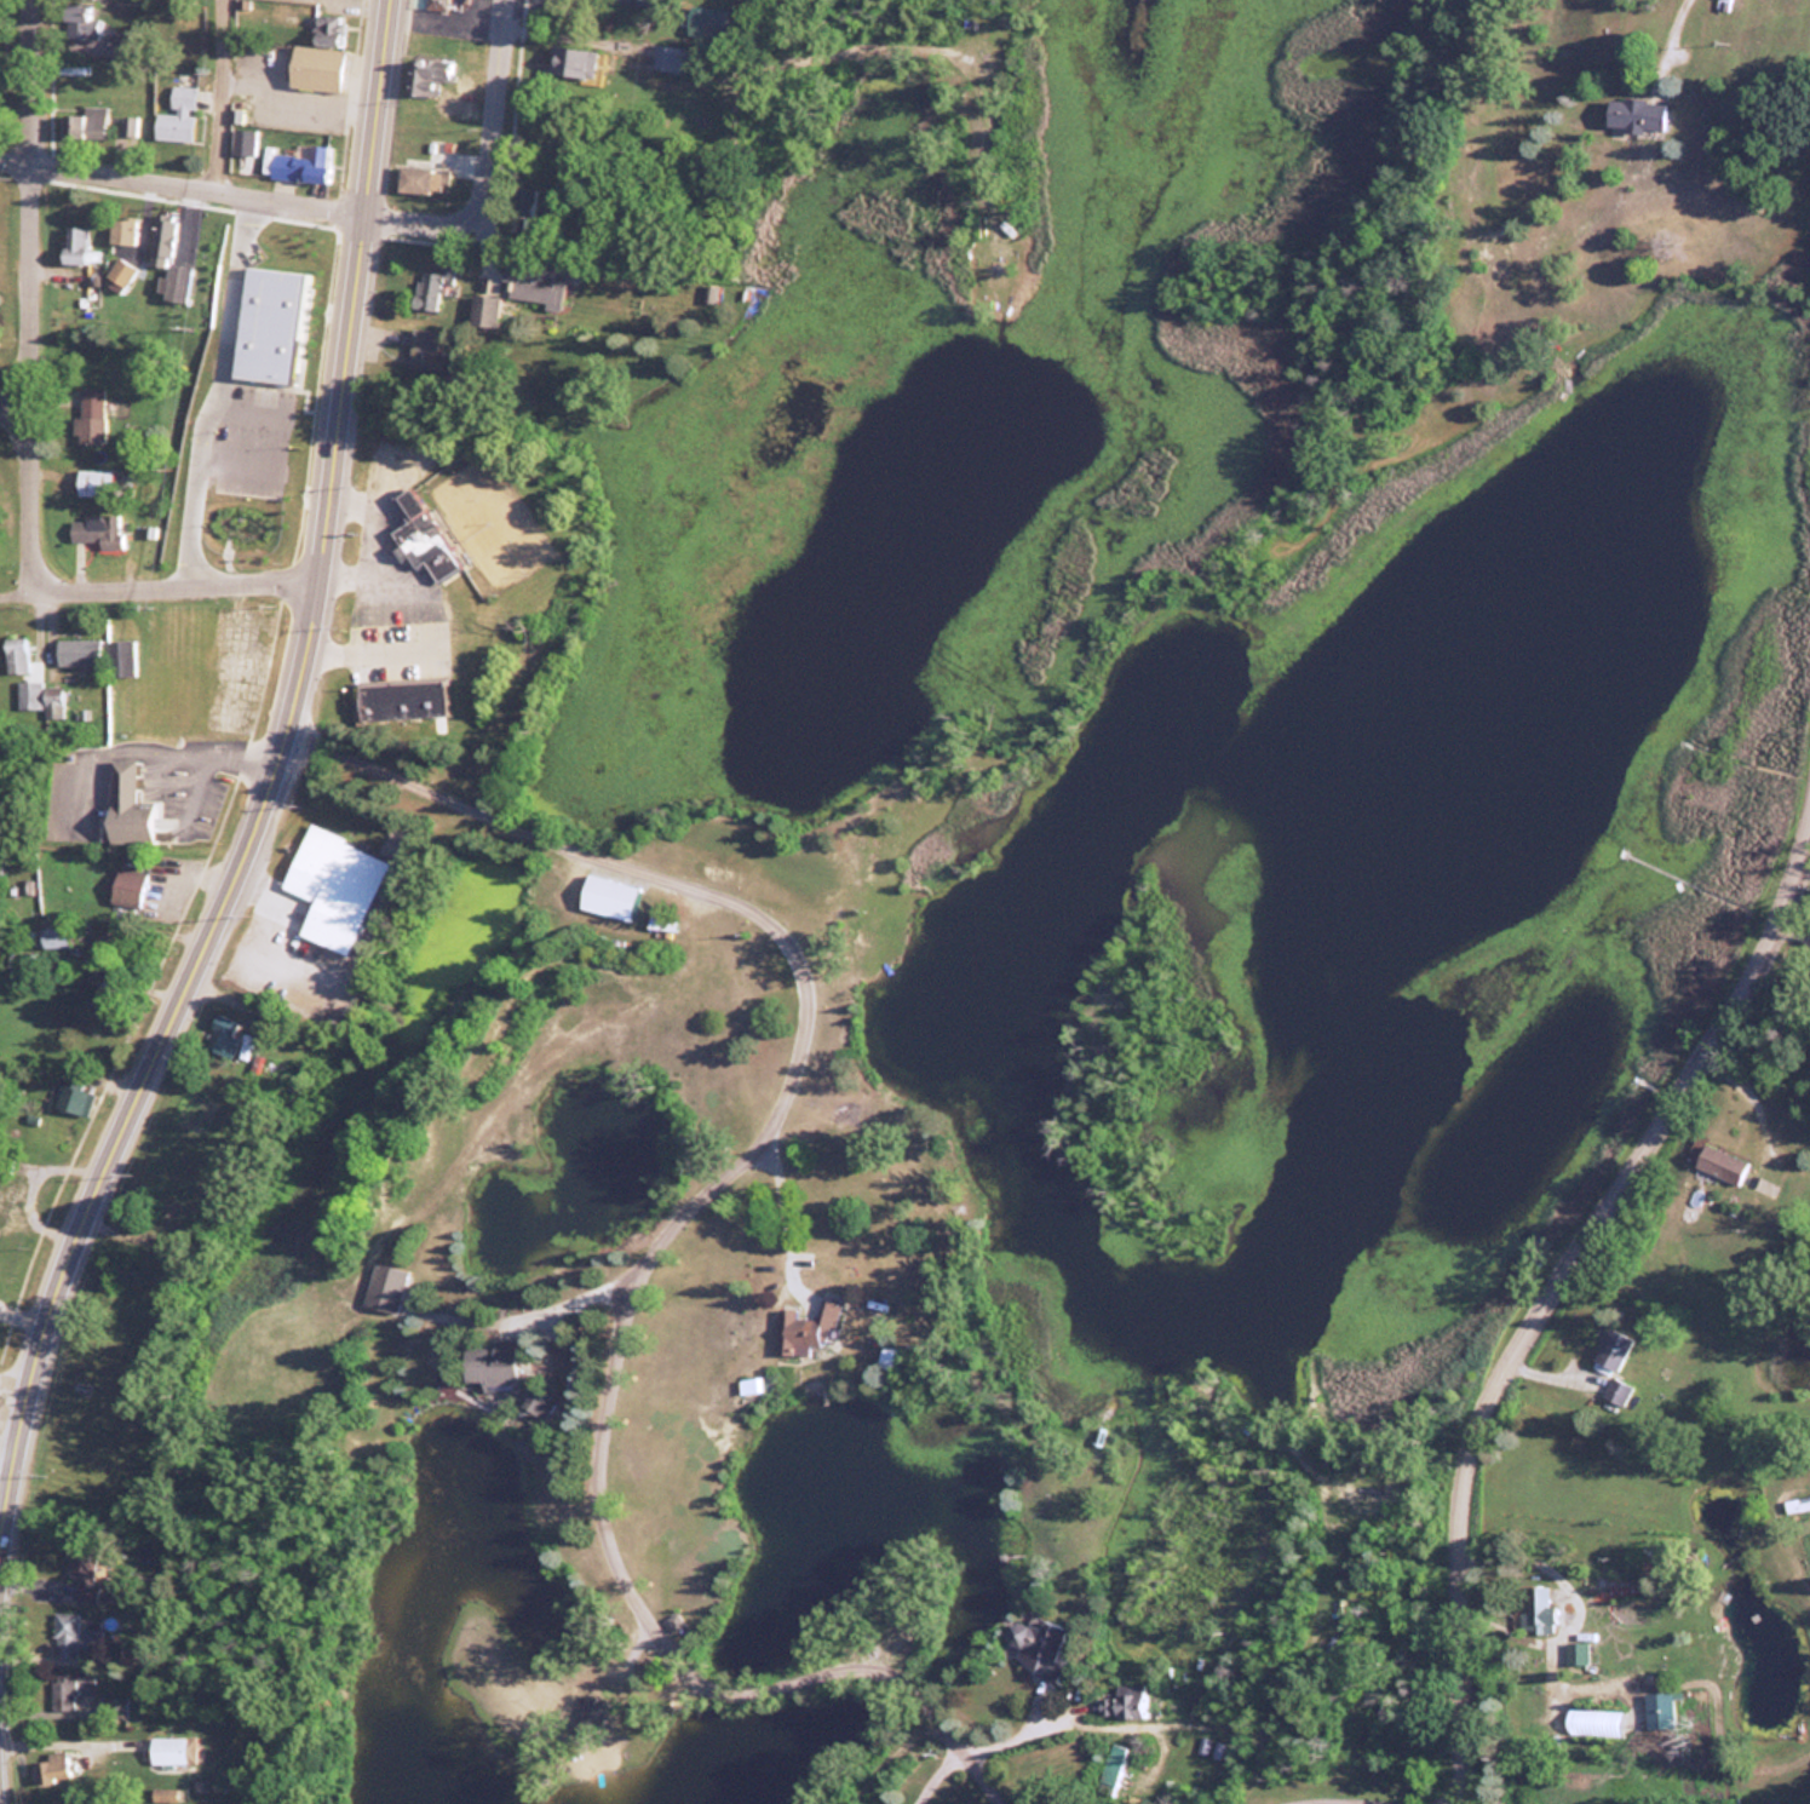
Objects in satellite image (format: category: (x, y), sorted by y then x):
building: (436, 4)
building: (81, 24)
road: (1662, 35)
building: (318, 56)
building: (666, 58)
building: (578, 63)
building: (424, 90)
road: (209, 92)
building: (1634, 115)
building: (176, 117)
building: (81, 123)
building: (128, 127)
road: (16, 154)
road: (482, 162)
building: (301, 165)
building: (421, 179)
road: (195, 182)
building: (121, 228)
building: (161, 237)
building: (74, 242)
building: (119, 270)
building: (530, 282)
building: (430, 285)
road: (33, 295)
building: (483, 309)
building: (270, 321)
road: (211, 384)
road: (12, 407)
building: (88, 415)
building: (93, 481)
building: (231, 493)
building: (94, 528)
building: (416, 536)
road: (154, 580)
building: (79, 650)
building: (16, 653)
building: (120, 656)
building: (41, 695)
building: (397, 701)
road: (270, 769)
building: (125, 792)
building: (127, 885)
building: (329, 887)
building: (608, 896)
building: (51, 936)
road: (1793, 936)
building: (245, 938)
building: (71, 1093)
building: (1720, 1162)
building: (10, 1189)
road: (683, 1214)
building: (384, 1287)
road: (1550, 1292)
building: (803, 1327)
building: (1613, 1349)
building: (489, 1361)
building: (1616, 1390)
building: (540, 1402)
building: (82, 1576)
building: (1540, 1610)
building: (65, 1634)
building: (1034, 1645)
building: (1576, 1653)
building: (63, 1695)
building: (1116, 1701)
building: (588, 1712)
road: (1068, 1723)
building: (173, 1750)
building: (59, 1766)
building: (1110, 1769)
road: (930, 1775)
road: (1352, 1800)

